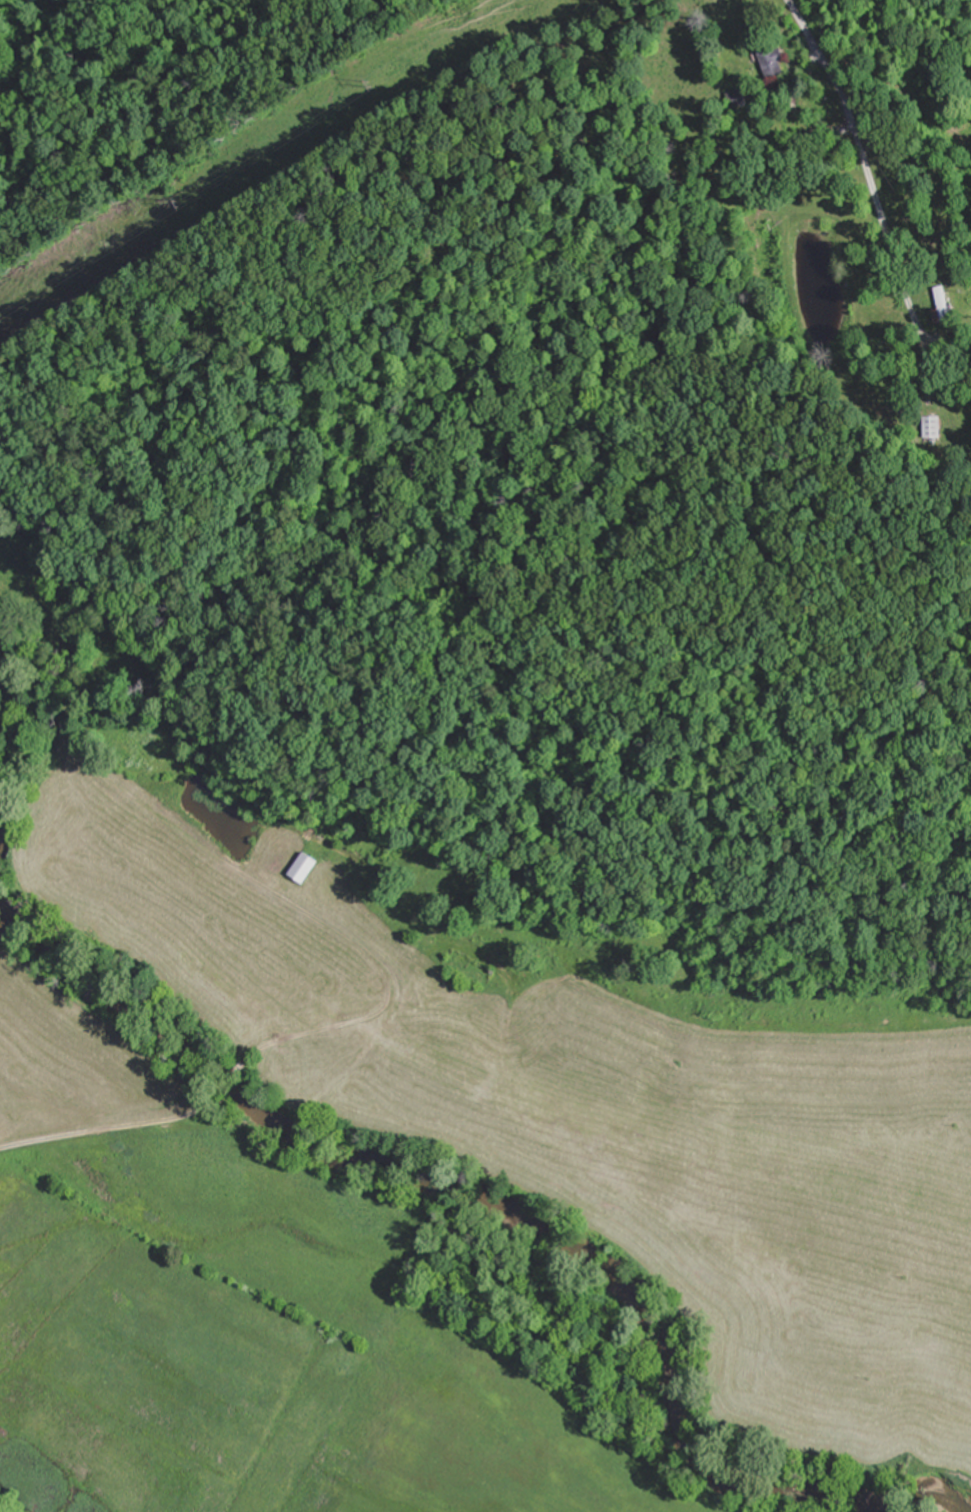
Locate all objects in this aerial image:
building: (771, 58)
road: (830, 72)
building: (738, 99)
building: (945, 307)
building: (933, 426)
road: (223, 864)
building: (305, 867)
road: (230, 1078)
road: (109, 1128)
river: (509, 1217)

